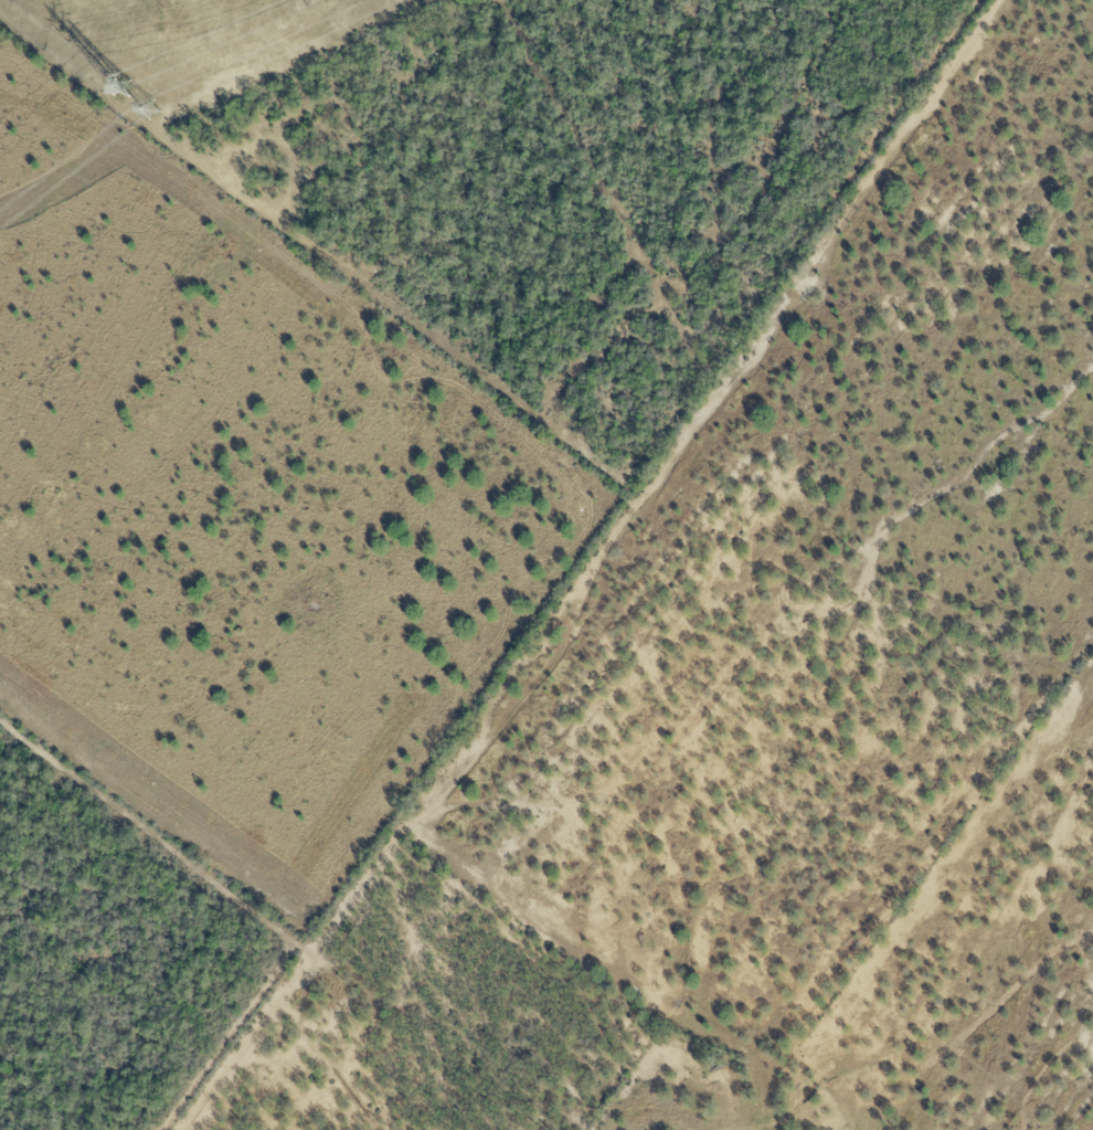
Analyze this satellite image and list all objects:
power tower: (126, 86)
power tower: (153, 108)

